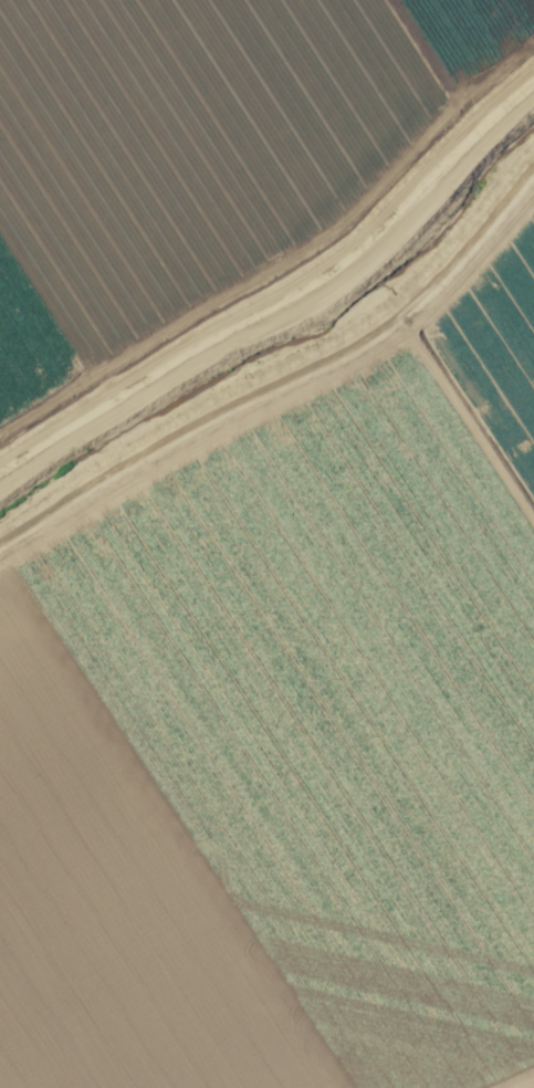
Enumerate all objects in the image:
road: (290, 389)
crop: (266, 544)
road: (524, 1084)

